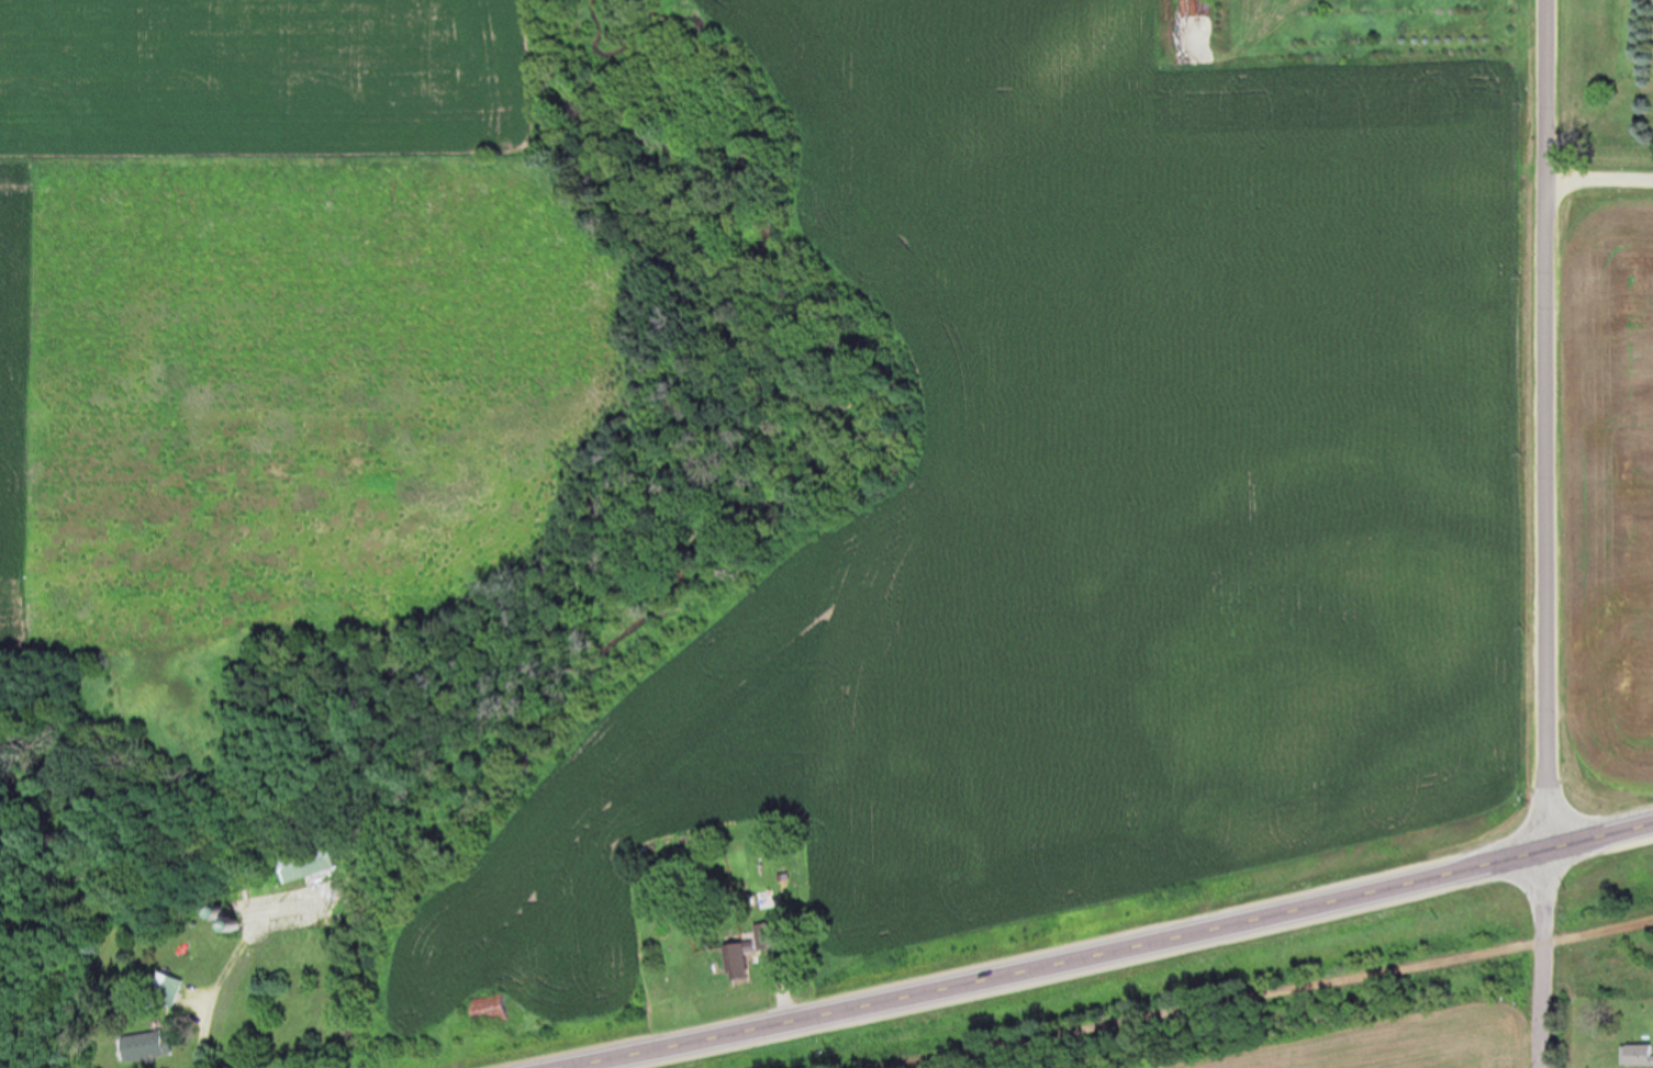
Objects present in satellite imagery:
road: (1599, 175)
road: (1545, 424)
building: (313, 861)
building: (783, 936)
road: (1116, 954)
road: (1540, 957)
building: (753, 963)
building: (171, 989)
road: (1277, 996)
building: (502, 1012)
building: (144, 1047)
building: (1630, 1060)

